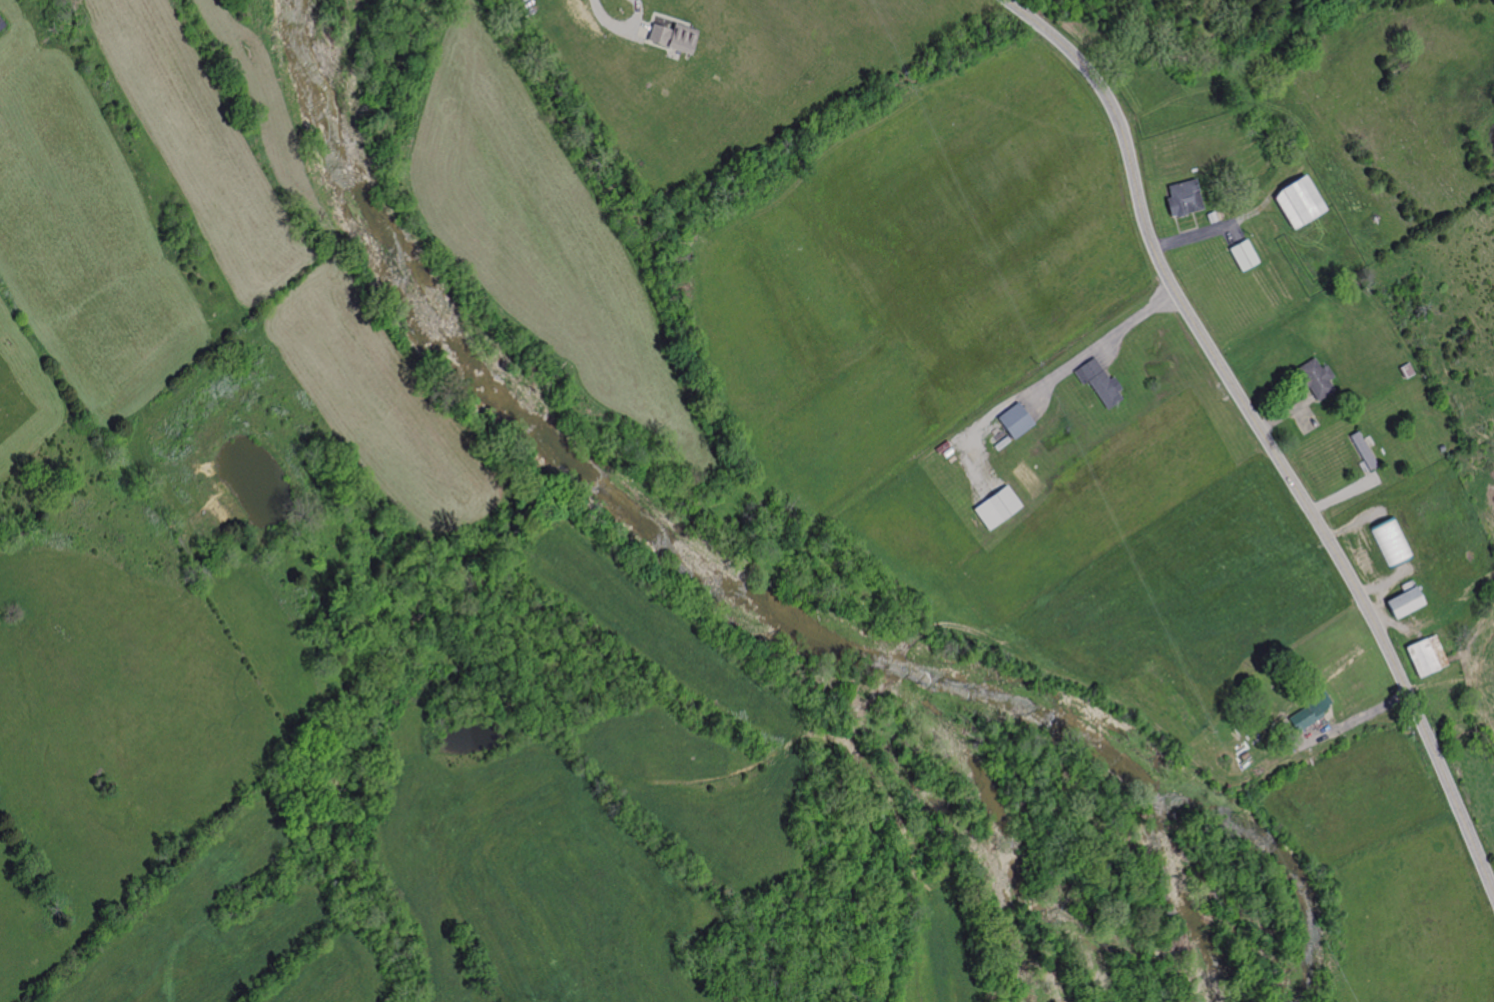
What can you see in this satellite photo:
road: (663, 16)
building: (1, 26)
road: (643, 28)
road: (621, 30)
building: (676, 37)
building: (1186, 199)
building: (1304, 203)
building: (1214, 217)
road: (1196, 223)
road: (1178, 227)
road: (1216, 229)
road: (1235, 234)
building: (1245, 254)
road: (1096, 345)
road: (1110, 347)
building: (1409, 369)
building: (1318, 377)
building: (1101, 381)
road: (1031, 390)
road: (1305, 391)
road: (1288, 411)
road: (1306, 415)
building: (1017, 420)
road: (969, 434)
road: (1263, 434)
building: (1443, 447)
building: (1365, 450)
road: (1343, 494)
building: (999, 506)
building: (1389, 540)
building: (1402, 601)
road: (1115, 631)
building: (1426, 655)
road: (891, 671)
building: (1309, 710)
road: (1352, 722)
building: (1242, 755)
road: (743, 817)

